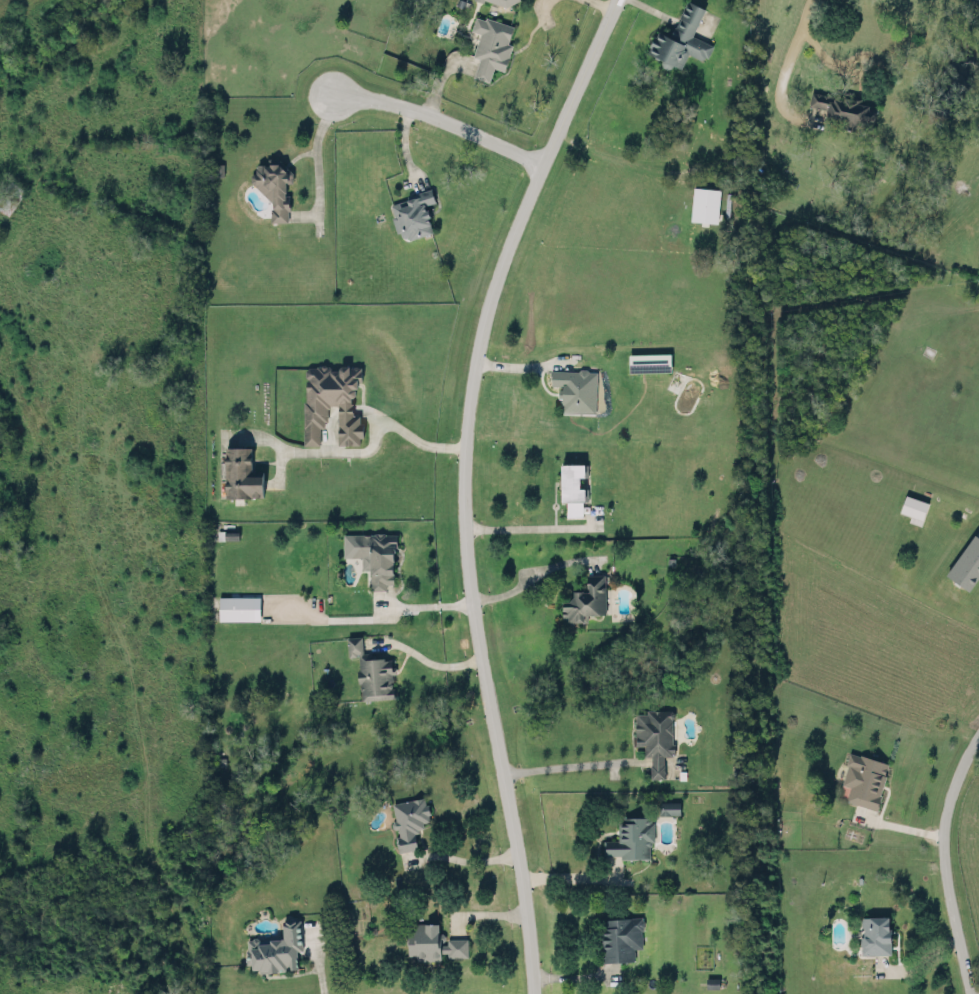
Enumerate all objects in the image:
building: (506, 1)
road: (604, 3)
building: (680, 37)
building: (490, 43)
road: (817, 52)
road: (785, 60)
building: (843, 108)
road: (440, 115)
building: (273, 186)
building: (704, 203)
building: (412, 214)
building: (649, 361)
building: (575, 388)
building: (331, 401)
road: (355, 449)
building: (240, 473)
building: (572, 477)
road: (463, 485)
building: (913, 507)
road: (529, 524)
building: (372, 554)
building: (967, 560)
road: (530, 572)
building: (585, 599)
building: (238, 606)
road: (375, 616)
road: (429, 659)
building: (371, 670)
building: (655, 735)
road: (569, 762)
building: (863, 778)
building: (668, 806)
building: (408, 820)
building: (631, 838)
road: (468, 858)
road: (942, 859)
road: (566, 875)
building: (876, 933)
building: (621, 937)
building: (424, 940)
building: (455, 945)
building: (277, 948)
road: (577, 976)
road: (975, 992)

